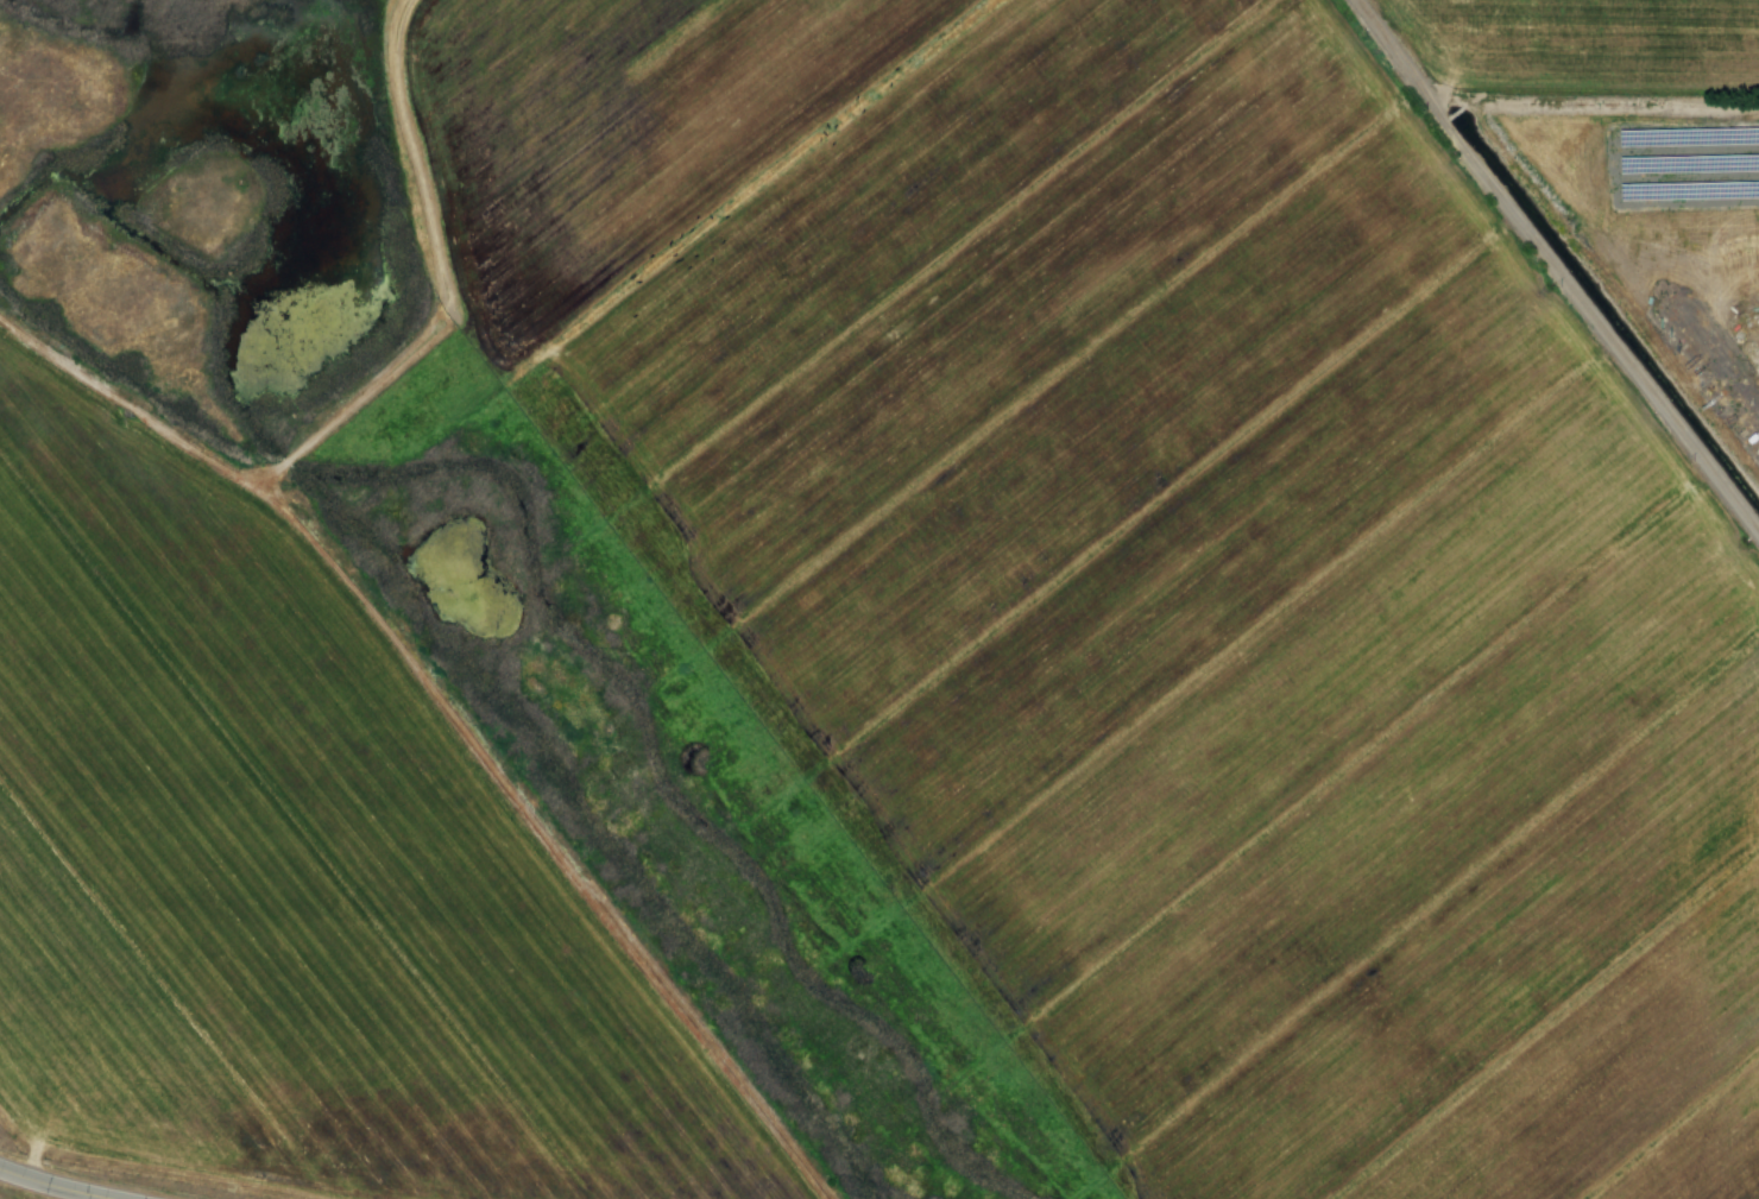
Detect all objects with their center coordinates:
road: (42, 1188)

